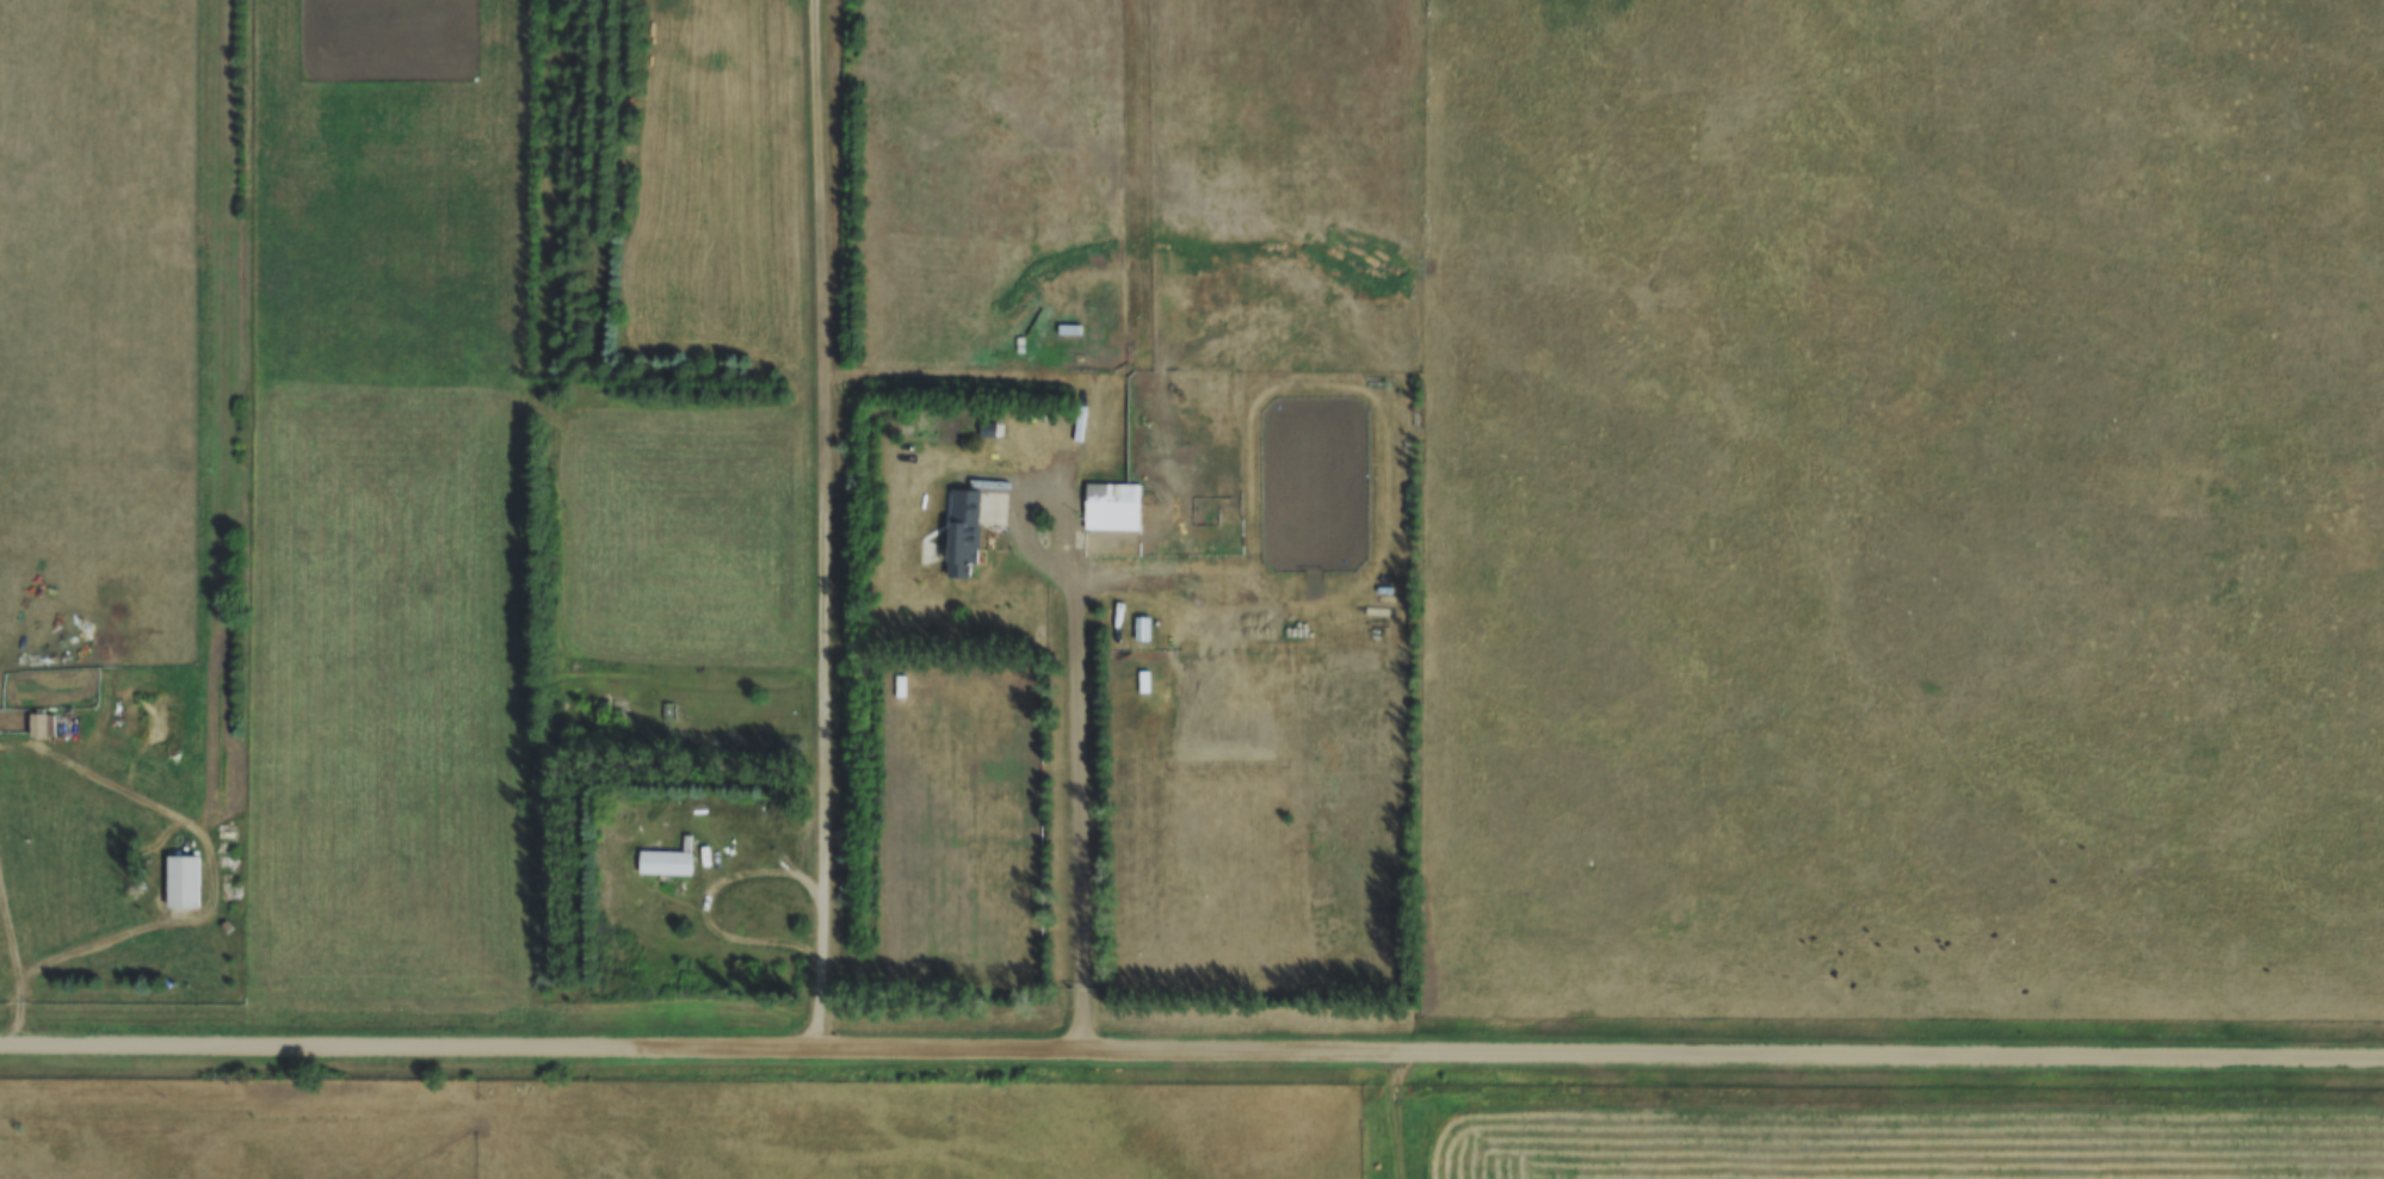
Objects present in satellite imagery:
building: (1114, 506)
road: (822, 524)
building: (968, 530)
building: (1144, 628)
building: (902, 686)
building: (612, 708)
building: (669, 716)
building: (41, 724)
road: (1076, 761)
building: (669, 860)
building: (185, 881)
road: (708, 906)
road: (69, 951)
road: (1192, 1050)

